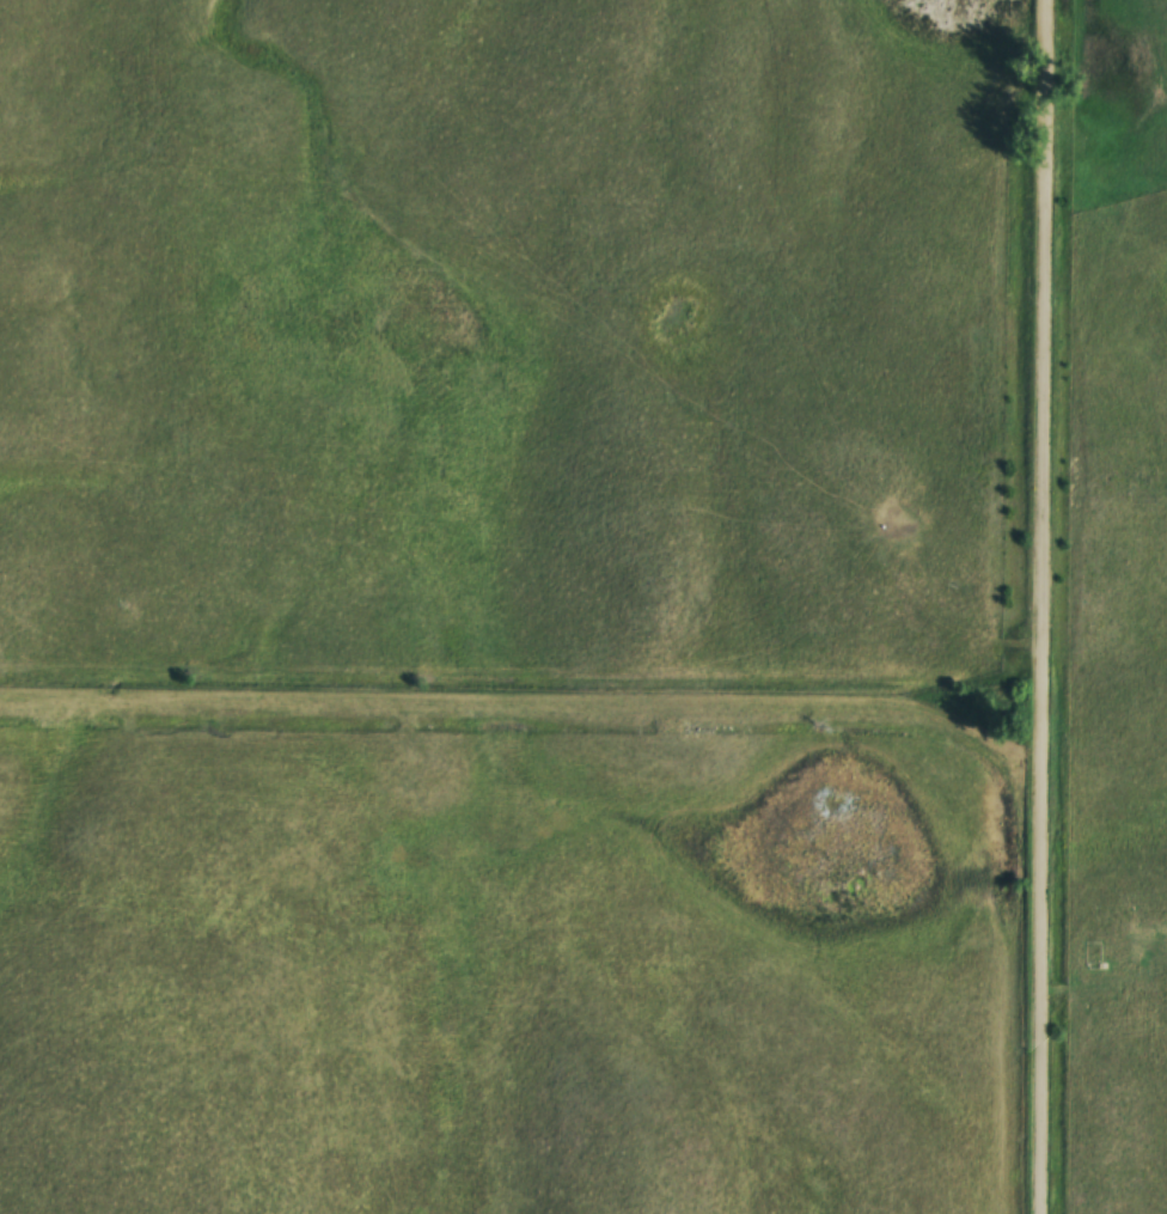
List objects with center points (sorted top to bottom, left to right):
road: (1051, 606)

